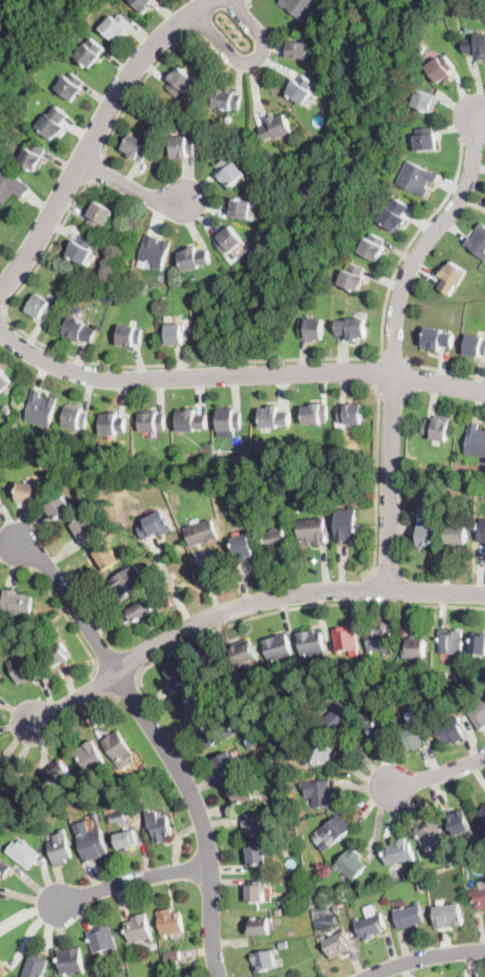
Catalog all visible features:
road: (249, 3)
building: (142, 4)
building: (298, 7)
building: (116, 27)
building: (476, 46)
building: (423, 48)
building: (299, 49)
building: (91, 52)
road: (250, 60)
building: (440, 68)
building: (179, 81)
building: (71, 85)
building: (301, 89)
road: (138, 91)
building: (228, 99)
building: (424, 100)
building: (53, 123)
building: (276, 127)
road: (95, 136)
building: (426, 139)
building: (182, 146)
building: (136, 147)
building: (33, 156)
road: (99, 170)
building: (230, 171)
building: (417, 178)
building: (11, 185)
road: (131, 188)
building: (240, 208)
building: (99, 214)
building: (395, 215)
building: (229, 240)
building: (478, 242)
building: (374, 247)
building: (82, 249)
building: (154, 251)
building: (193, 258)
building: (353, 277)
building: (452, 277)
building: (160, 299)
building: (41, 307)
road: (2, 316)
building: (353, 328)
building: (312, 329)
building: (79, 330)
building: (175, 334)
building: (130, 335)
building: (437, 338)
road: (395, 342)
building: (475, 345)
road: (393, 358)
road: (220, 363)
road: (444, 370)
road: (374, 373)
road: (236, 375)
building: (4, 381)
building: (6, 407)
building: (41, 408)
building: (351, 413)
building: (314, 414)
building: (75, 417)
building: (274, 417)
building: (230, 420)
building: (191, 421)
building: (153, 422)
building: (113, 424)
building: (437, 429)
building: (475, 441)
building: (161, 463)
building: (201, 468)
building: (263, 481)
building: (196, 482)
road: (376, 482)
building: (467, 489)
building: (29, 493)
building: (436, 495)
building: (1, 503)
building: (60, 507)
building: (348, 524)
building: (156, 525)
building: (86, 528)
building: (314, 530)
building: (482, 531)
building: (202, 532)
building: (430, 534)
building: (460, 536)
building: (277, 539)
building: (244, 546)
building: (106, 557)
building: (148, 567)
building: (128, 582)
road: (371, 589)
building: (17, 603)
building: (169, 604)
road: (244, 604)
building: (143, 608)
road: (298, 608)
road: (68, 620)
building: (345, 638)
building: (380, 640)
building: (312, 642)
building: (451, 642)
building: (478, 644)
building: (277, 647)
building: (416, 648)
building: (245, 654)
building: (57, 655)
building: (25, 667)
building: (444, 674)
building: (178, 675)
building: (0, 677)
road: (100, 683)
road: (126, 689)
building: (197, 704)
road: (91, 705)
building: (478, 714)
building: (337, 719)
building: (378, 727)
building: (451, 730)
building: (218, 733)
building: (415, 734)
road: (162, 741)
building: (119, 747)
building: (319, 754)
building: (91, 759)
building: (226, 764)
building: (273, 767)
road: (439, 773)
building: (57, 777)
building: (19, 787)
building: (320, 791)
building: (242, 793)
building: (482, 814)
building: (118, 817)
building: (253, 824)
building: (462, 824)
building: (159, 826)
building: (336, 828)
building: (431, 835)
building: (302, 836)
building: (127, 839)
building: (93, 845)
building: (60, 848)
building: (399, 852)
building: (23, 853)
building: (256, 855)
building: (451, 858)
building: (351, 863)
building: (301, 866)
building: (4, 869)
road: (133, 880)
building: (420, 883)
building: (312, 887)
building: (297, 889)
building: (257, 891)
building: (479, 897)
building: (314, 902)
building: (336, 906)
building: (279, 910)
building: (409, 915)
building: (448, 916)
building: (171, 922)
building: (371, 923)
building: (260, 926)
building: (139, 928)
building: (102, 939)
building: (337, 944)
building: (283, 945)
building: (172, 957)
road: (422, 957)
building: (71, 961)
building: (265, 961)
building: (36, 966)
building: (2, 970)

